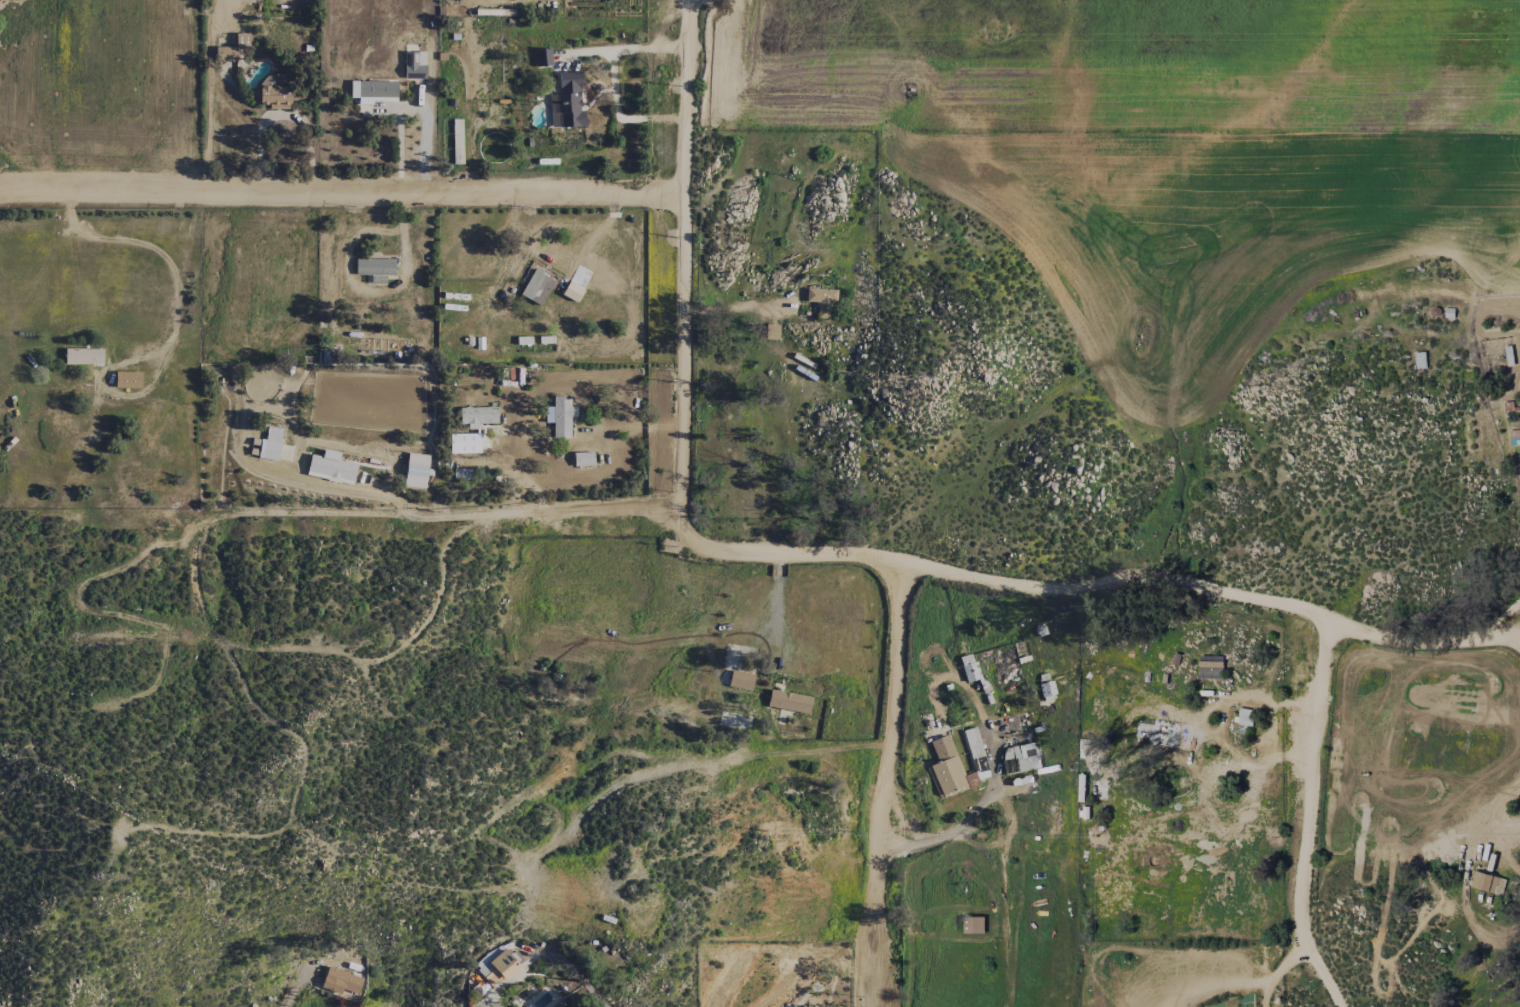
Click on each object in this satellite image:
building: (241, 40)
road: (627, 51)
building: (225, 54)
building: (542, 57)
building: (414, 65)
building: (275, 91)
building: (374, 91)
building: (567, 102)
road: (342, 193)
road: (684, 255)
building: (375, 269)
building: (537, 287)
building: (822, 301)
building: (771, 332)
building: (83, 356)
building: (1420, 359)
building: (128, 380)
building: (478, 416)
building: (560, 417)
building: (270, 444)
building: (583, 459)
building: (330, 467)
building: (416, 471)
building: (462, 473)
road: (953, 573)
building: (1210, 666)
building: (969, 668)
building: (740, 680)
building: (1046, 689)
building: (789, 702)
building: (1245, 716)
building: (972, 743)
building: (1023, 757)
building: (946, 767)
road: (894, 789)
road: (981, 806)
road: (1307, 819)
building: (1484, 881)
building: (974, 924)
building: (497, 968)
road: (1277, 970)
building: (341, 983)
road: (292, 987)
road: (492, 1005)

